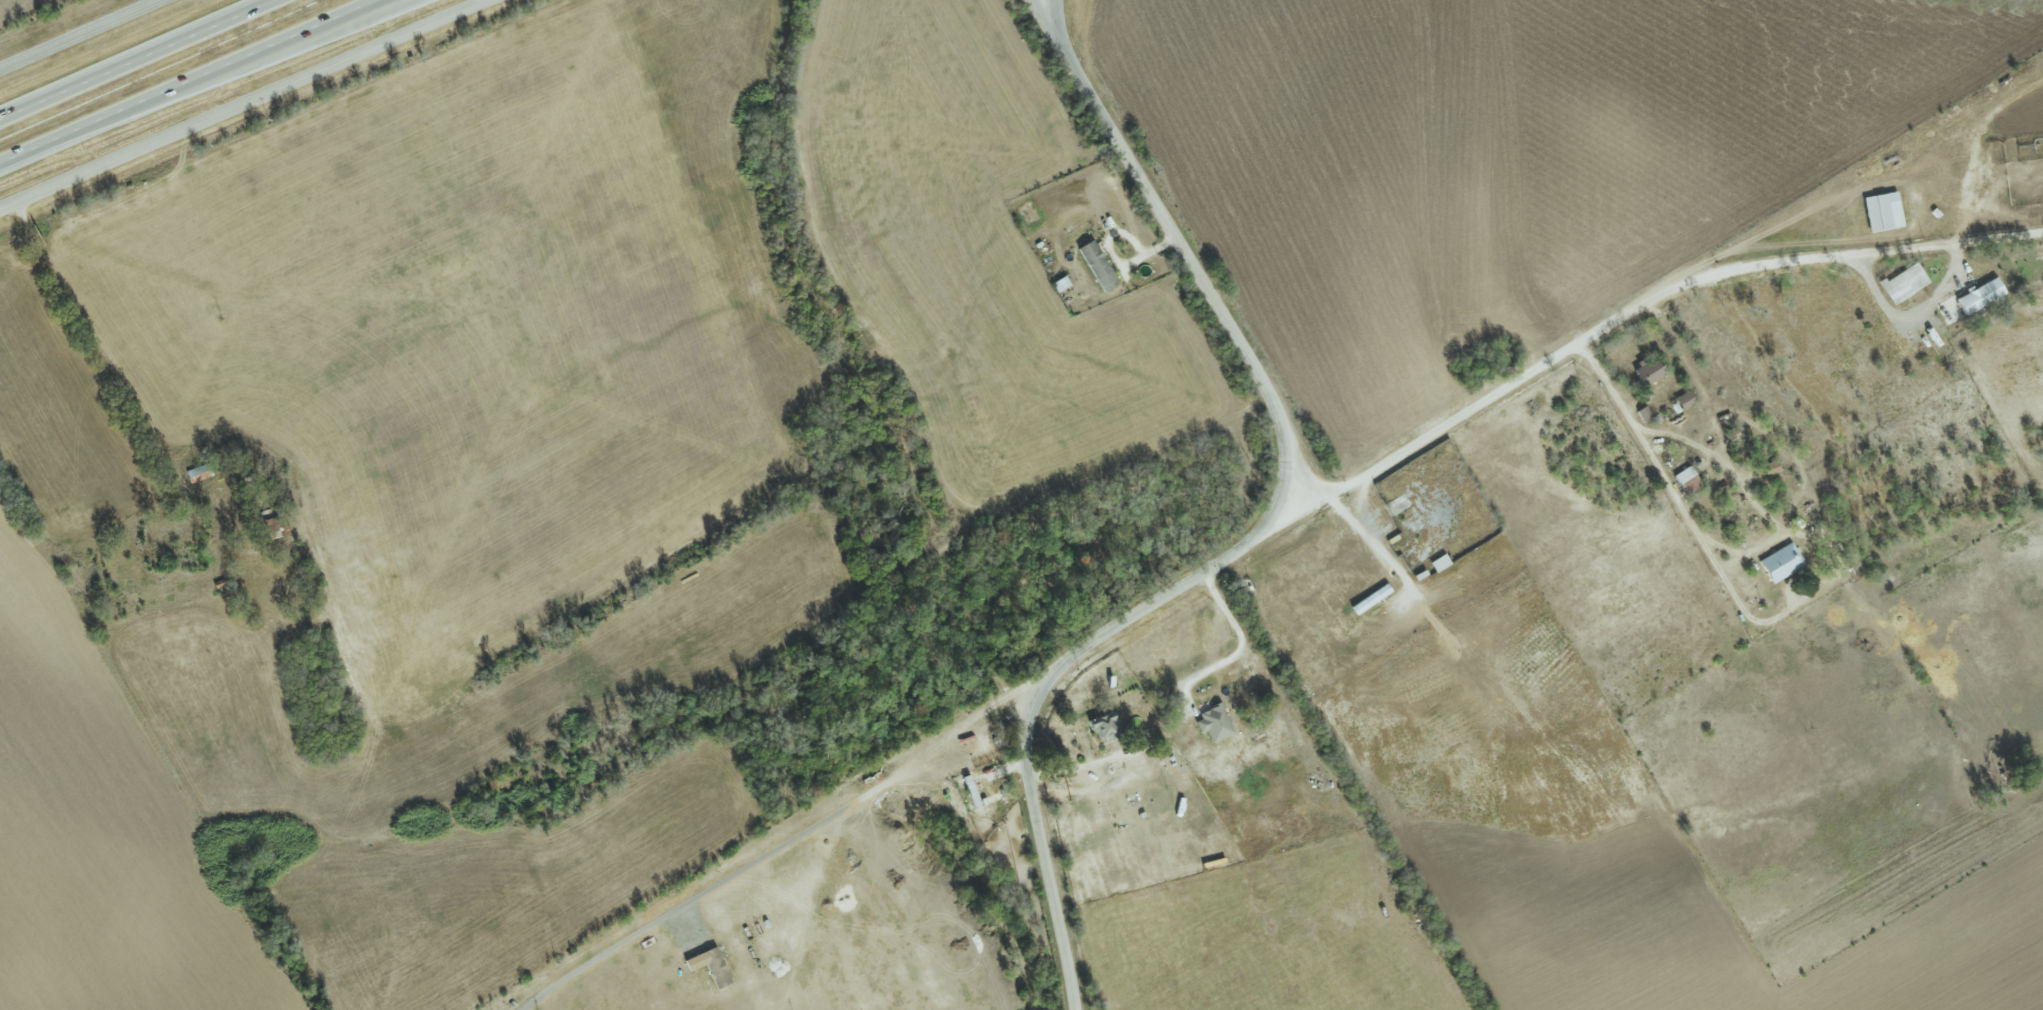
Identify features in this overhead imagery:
road: (1056, 18)
road: (82, 36)
road: (139, 60)
road: (191, 82)
road: (209, 84)
road: (247, 105)
crop: (2019, 114)
building: (1884, 210)
building: (1099, 265)
building: (1905, 282)
building: (1981, 295)
road: (1642, 307)
road: (1912, 315)
road: (98, 348)
building: (1688, 479)
road: (1363, 502)
road: (1344, 508)
road: (1264, 529)
road: (1723, 547)
road: (1389, 557)
building: (1782, 562)
road: (1788, 611)
road: (1185, 716)
building: (1215, 723)
building: (1107, 726)
road: (1087, 759)
road: (789, 842)
crop: (1613, 843)
building: (711, 965)

